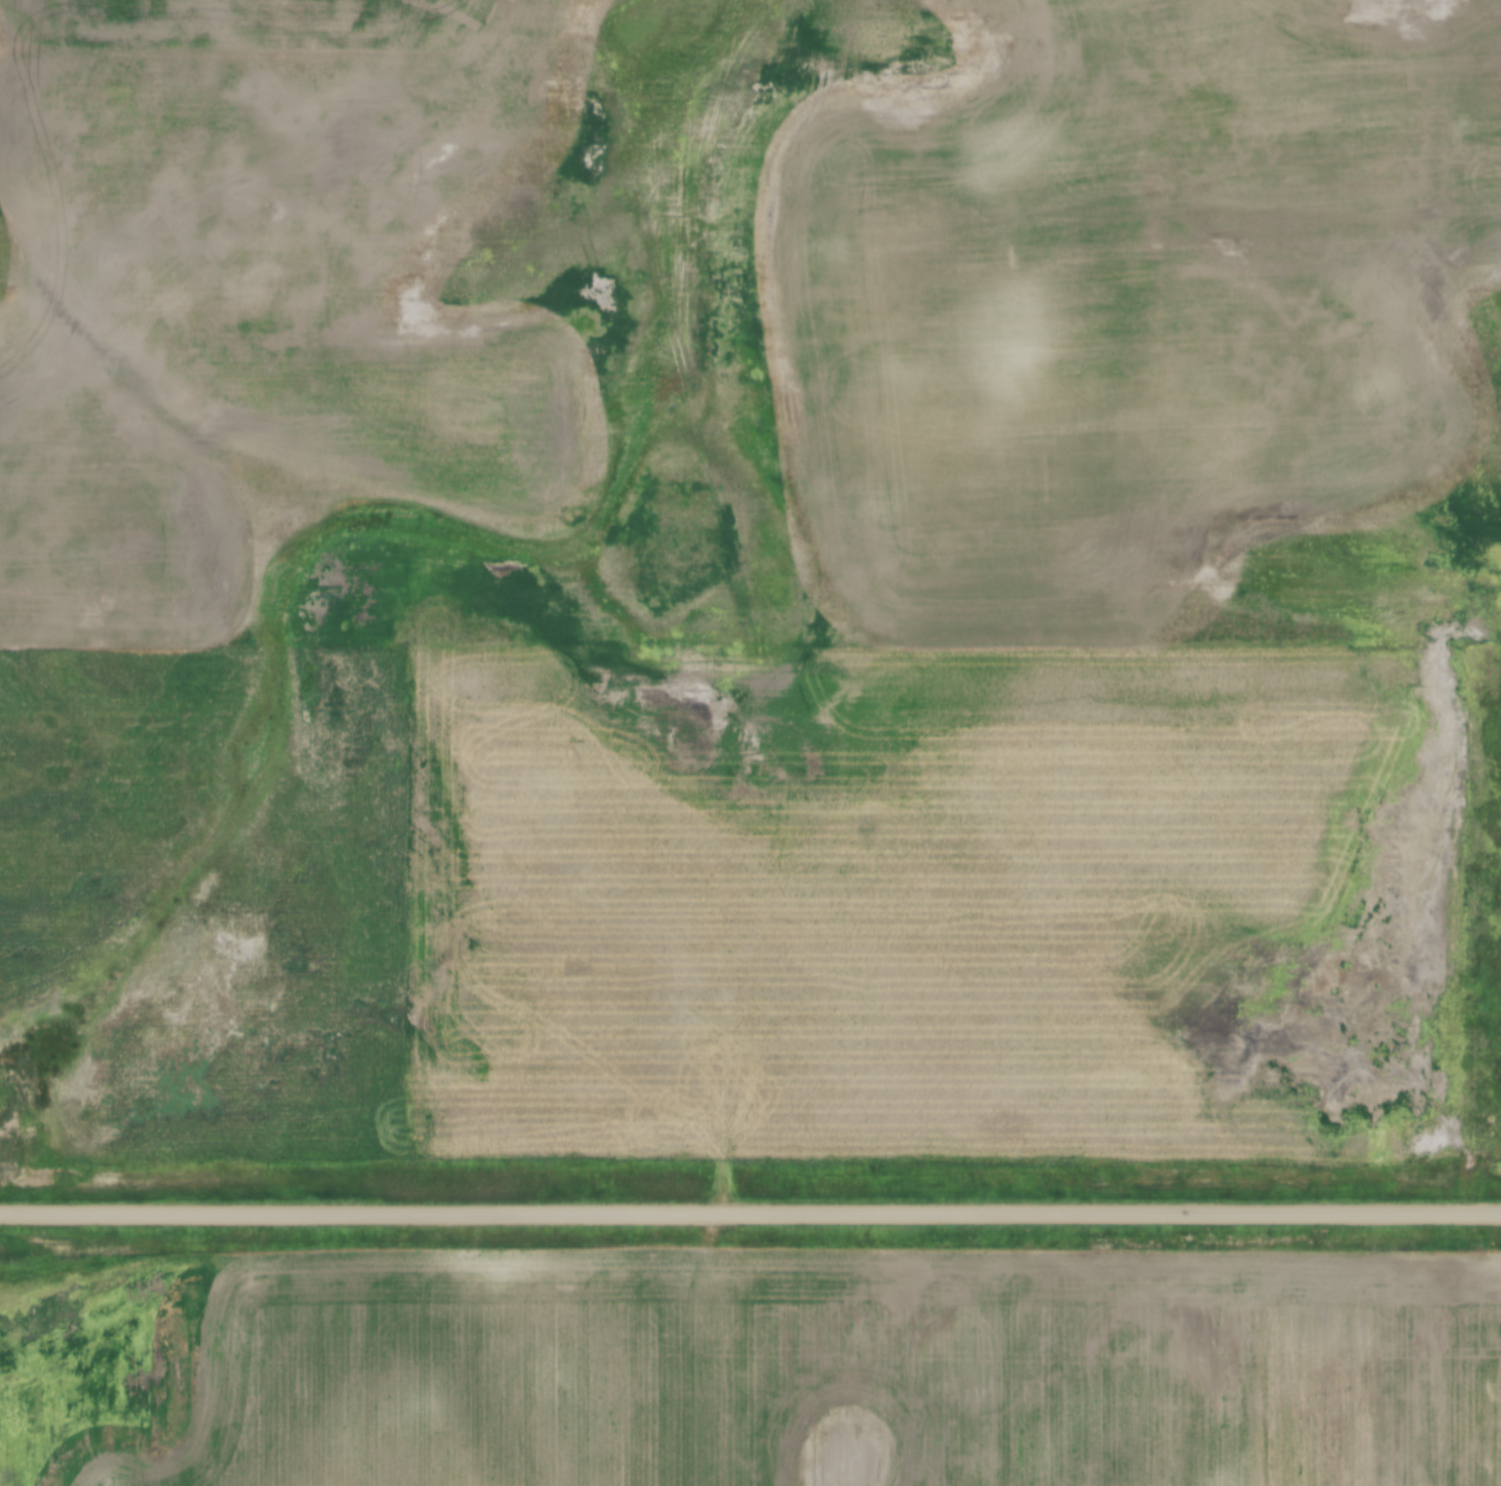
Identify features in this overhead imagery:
road: (750, 1215)

